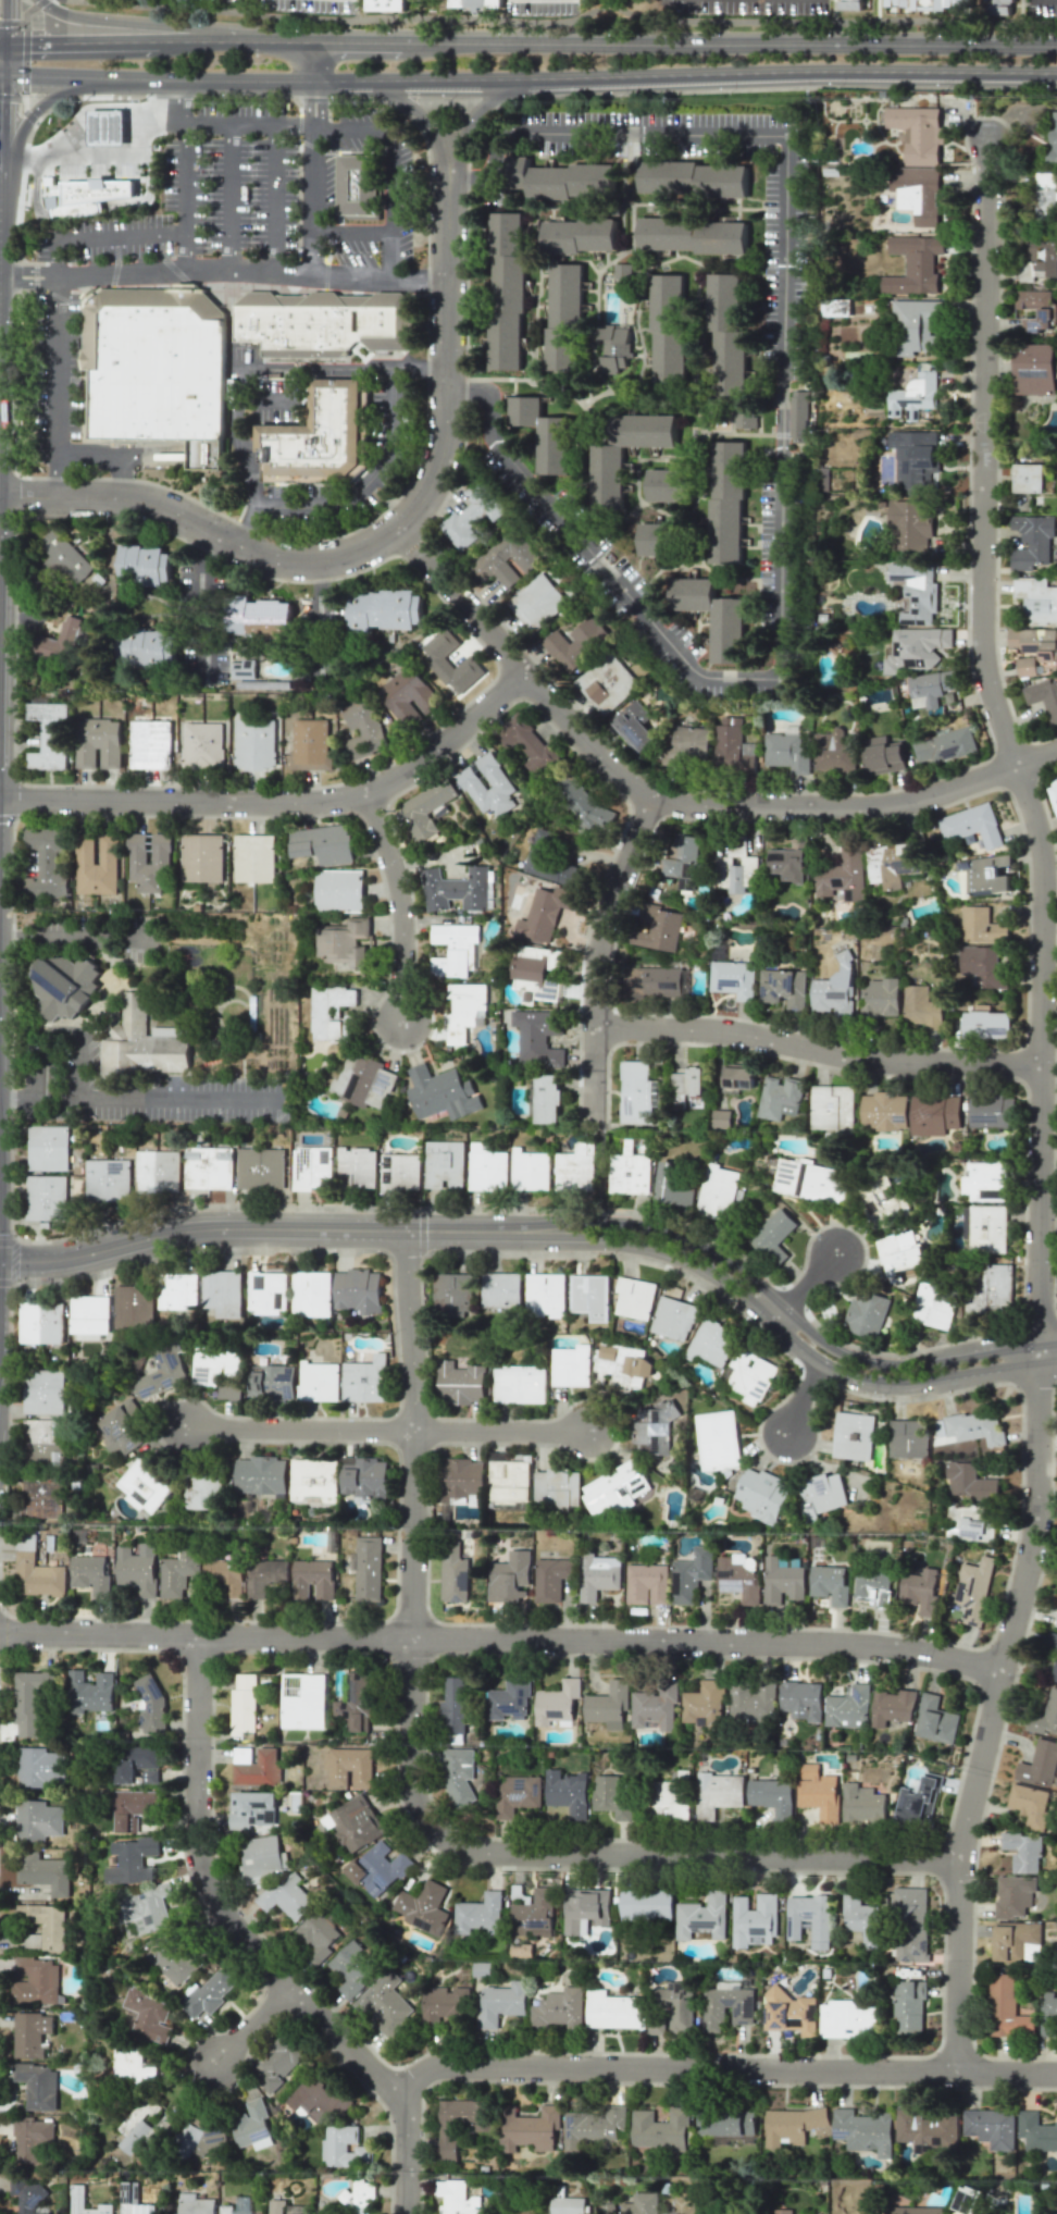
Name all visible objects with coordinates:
building: (386, 2)
building: (998, 2)
building: (475, 3)
building: (850, 3)
building: (929, 4)
road: (609, 5)
road: (4, 21)
road: (561, 21)
road: (12, 23)
road: (149, 24)
road: (251, 40)
road: (373, 41)
road: (79, 42)
road: (2, 44)
traffic signals: (4, 44)
road: (728, 44)
road: (2, 48)
road: (25, 59)
road: (705, 74)
road: (176, 79)
road: (314, 79)
street lamp: (946, 90)
road: (11, 97)
road: (182, 101)
road: (405, 102)
road: (487, 102)
road: (36, 109)
building: (105, 126)
gas station: (105, 126)
road: (357, 129)
building: (917, 133)
building: (1052, 137)
road: (108, 156)
street lamp: (968, 164)
building: (693, 176)
building: (561, 178)
building: (358, 183)
building: (96, 188)
building: (916, 193)
building: (1045, 193)
road: (183, 196)
road: (228, 197)
road: (272, 198)
road: (311, 201)
road: (693, 206)
parking lot: (223, 221)
building: (587, 228)
building: (693, 232)
road: (350, 233)
road: (103, 237)
building: (1036, 256)
building: (912, 264)
road: (17, 270)
road: (224, 270)
road: (430, 276)
road: (28, 284)
road: (444, 287)
building: (507, 294)
building: (567, 307)
building: (835, 307)
building: (1034, 308)
building: (668, 317)
building: (324, 322)
building: (725, 325)
building: (913, 325)
building: (614, 347)
road: (58, 366)
building: (158, 367)
road: (248, 367)
building: (1034, 369)
road: (396, 375)
building: (912, 397)
building: (522, 404)
building: (798, 417)
building: (746, 419)
building: (318, 437)
building: (651, 437)
building: (556, 441)
parking lot: (388, 452)
road: (984, 456)
road: (111, 457)
building: (915, 460)
road: (781, 474)
building: (607, 477)
building: (1028, 478)
road: (428, 479)
road: (370, 482)
building: (681, 488)
street lamp: (965, 495)
building: (729, 497)
road: (263, 502)
building: (471, 515)
building: (910, 525)
road: (207, 530)
road: (411, 534)
building: (650, 534)
building: (1031, 541)
building: (64, 559)
building: (506, 559)
building: (153, 565)
building: (916, 593)
building: (1036, 599)
building: (385, 601)
building: (537, 601)
road: (209, 602)
building: (263, 613)
building: (713, 615)
road: (320, 617)
building: (59, 642)
building: (575, 644)
building: (150, 647)
building: (915, 648)
building: (439, 661)
building: (1025, 666)
building: (244, 669)
street lamp: (1003, 681)
building: (606, 683)
building: (929, 689)
building: (407, 695)
building: (1043, 696)
building: (633, 726)
building: (362, 729)
building: (48, 734)
building: (97, 743)
building: (149, 744)
building: (254, 744)
building: (525, 744)
building: (202, 745)
building: (310, 745)
building: (687, 745)
building: (731, 745)
building: (945, 745)
building: (786, 751)
building: (833, 752)
building: (883, 755)
road: (1035, 757)
building: (497, 780)
road: (662, 799)
road: (281, 803)
building: (426, 808)
building: (586, 808)
street lamp: (343, 813)
building: (971, 825)
building: (323, 843)
building: (137, 849)
building: (201, 857)
building: (256, 857)
building: (681, 859)
building: (549, 861)
building: (46, 862)
building: (891, 863)
building: (96, 864)
building: (787, 864)
building: (734, 868)
building: (841, 874)
building: (987, 875)
building: (338, 879)
building: (456, 889)
street lamp: (1024, 901)
road: (398, 905)
building: (546, 912)
building: (981, 926)
building: (657, 928)
road: (13, 929)
road: (87, 932)
road: (599, 939)
building: (341, 941)
building: (453, 949)
building: (982, 966)
building: (534, 970)
building: (734, 978)
building: (652, 982)
building: (63, 986)
building: (783, 988)
building: (834, 989)
building: (881, 997)
building: (920, 1009)
building: (462, 1010)
building: (319, 1013)
building: (337, 1019)
building: (986, 1025)
road: (63, 1035)
building: (537, 1037)
building: (140, 1046)
road: (816, 1048)
street lamp: (1056, 1062)
road: (42, 1068)
road: (78, 1072)
building: (738, 1077)
building: (361, 1079)
building: (687, 1081)
building: (636, 1093)
road: (7, 1097)
road: (149, 1097)
building: (779, 1097)
building: (547, 1098)
building: (831, 1106)
building: (883, 1111)
building: (990, 1111)
building: (933, 1114)
building: (720, 1118)
building: (48, 1148)
road: (602, 1153)
building: (444, 1164)
building: (356, 1166)
park: (601, 1166)
building: (208, 1167)
building: (260, 1168)
building: (311, 1168)
building: (575, 1168)
building: (531, 1170)
building: (487, 1171)
building: (157, 1172)
building: (399, 1172)
building: (630, 1173)
building: (107, 1179)
building: (809, 1180)
building: (984, 1182)
building: (674, 1186)
building: (717, 1192)
building: (46, 1197)
building: (879, 1200)
road: (246, 1228)
road: (648, 1228)
building: (986, 1228)
building: (773, 1236)
road: (642, 1245)
building: (898, 1254)
road: (803, 1286)
building: (996, 1288)
building: (359, 1289)
building: (500, 1289)
building: (177, 1292)
building: (222, 1292)
building: (266, 1292)
building: (311, 1292)
building: (450, 1295)
building: (545, 1295)
building: (590, 1296)
building: (635, 1297)
building: (933, 1306)
building: (133, 1307)
building: (866, 1313)
road: (789, 1316)
building: (89, 1318)
building: (673, 1318)
building: (40, 1322)
building: (711, 1341)
road: (923, 1361)
building: (572, 1365)
building: (622, 1365)
building: (217, 1369)
building: (162, 1372)
building: (750, 1375)
building: (365, 1380)
building: (318, 1382)
building: (272, 1383)
building: (460, 1383)
building: (520, 1384)
road: (901, 1385)
building: (43, 1392)
road: (801, 1397)
road: (1034, 1421)
building: (652, 1427)
building: (974, 1427)
building: (121, 1428)
road: (386, 1428)
building: (853, 1436)
building: (907, 1438)
building: (41, 1439)
building: (719, 1439)
building: (260, 1474)
building: (363, 1477)
building: (461, 1477)
building: (313, 1481)
building: (969, 1482)
building: (508, 1484)
building: (144, 1485)
building: (555, 1488)
building: (613, 1489)
building: (202, 1491)
building: (821, 1494)
building: (39, 1495)
building: (761, 1495)
building: (974, 1523)
building: (137, 1568)
building: (368, 1569)
building: (36, 1571)
building: (177, 1573)
building: (452, 1573)
building: (90, 1574)
building: (691, 1574)
building: (264, 1575)
building: (598, 1575)
building: (225, 1576)
building: (552, 1576)
building: (739, 1576)
building: (509, 1578)
building: (311, 1579)
building: (781, 1583)
building: (873, 1583)
building: (646, 1584)
building: (830, 1584)
building: (973, 1590)
building: (919, 1591)
building: (1056, 1606)
building: (1056, 1621)
road: (0, 1634)
road: (499, 1640)
street lamp: (583, 1658)
street lamp: (387, 1661)
building: (1055, 1666)
street lamp: (1017, 1675)
building: (90, 1692)
building: (508, 1699)
building: (800, 1699)
building: (28, 1700)
building: (302, 1700)
building: (751, 1700)
building: (557, 1702)
building: (244, 1703)
building: (355, 1703)
building: (150, 1705)
building: (452, 1705)
building: (702, 1705)
building: (608, 1706)
building: (655, 1706)
building: (892, 1707)
building: (847, 1708)
building: (1045, 1716)
building: (934, 1720)
building: (133, 1761)
building: (1040, 1764)
building: (39, 1768)
building: (348, 1768)
building: (258, 1769)
building: (457, 1776)
building: (567, 1792)
building: (818, 1792)
building: (717, 1793)
building: (515, 1794)
road: (414, 1796)
building: (771, 1796)
building: (612, 1797)
building: (669, 1799)
building: (919, 1799)
building: (1029, 1804)
building: (862, 1805)
building: (130, 1808)
building: (252, 1809)
building: (37, 1820)
building: (355, 1823)
building: (1023, 1851)
building: (261, 1858)
building: (132, 1860)
building: (376, 1868)
building: (43, 1872)
street lamp: (619, 1872)
street lamp: (785, 1875)
building: (287, 1896)
building: (1014, 1896)
building: (646, 1904)
building: (423, 1907)
building: (146, 1908)
building: (533, 1910)
building: (585, 1912)
building: (478, 1914)
building: (700, 1917)
building: (810, 1918)
building: (860, 1919)
building: (754, 1920)
building: (911, 1921)
building: (42, 1926)
building: (315, 1937)
building: (1017, 1942)
road: (251, 1945)
building: (173, 1959)
building: (350, 1969)
building: (35, 1981)
building: (210, 1992)
building: (385, 2004)
building: (501, 2004)
building: (728, 2005)
building: (444, 2006)
building: (674, 2006)
building: (909, 2007)
building: (1007, 2008)
building: (558, 2009)
building: (612, 2009)
building: (789, 2012)
building: (1048, 2013)
building: (148, 2015)
building: (847, 2019)
road: (249, 2028)
building: (30, 2033)
building: (279, 2062)
building: (130, 2066)
road: (721, 2068)
building: (36, 2085)
street lamp: (960, 2088)
building: (318, 2101)
building: (460, 2123)
building: (725, 2123)
building: (251, 2125)
building: (592, 2126)
building: (791, 2126)
building: (991, 2127)
building: (527, 2128)
building: (659, 2129)
building: (863, 2130)
building: (927, 2130)
building: (1037, 2131)
building: (137, 2137)
building: (32, 2138)
building: (188, 2138)
building: (343, 2148)
building: (27, 2193)
building: (76, 2193)
building: (456, 2198)
building: (359, 2199)
building: (966, 2199)
building: (132, 2200)
building: (642, 2203)
building: (194, 2204)
building: (569, 2205)
building: (225, 2209)
building: (916, 2210)
building: (782, 2211)

